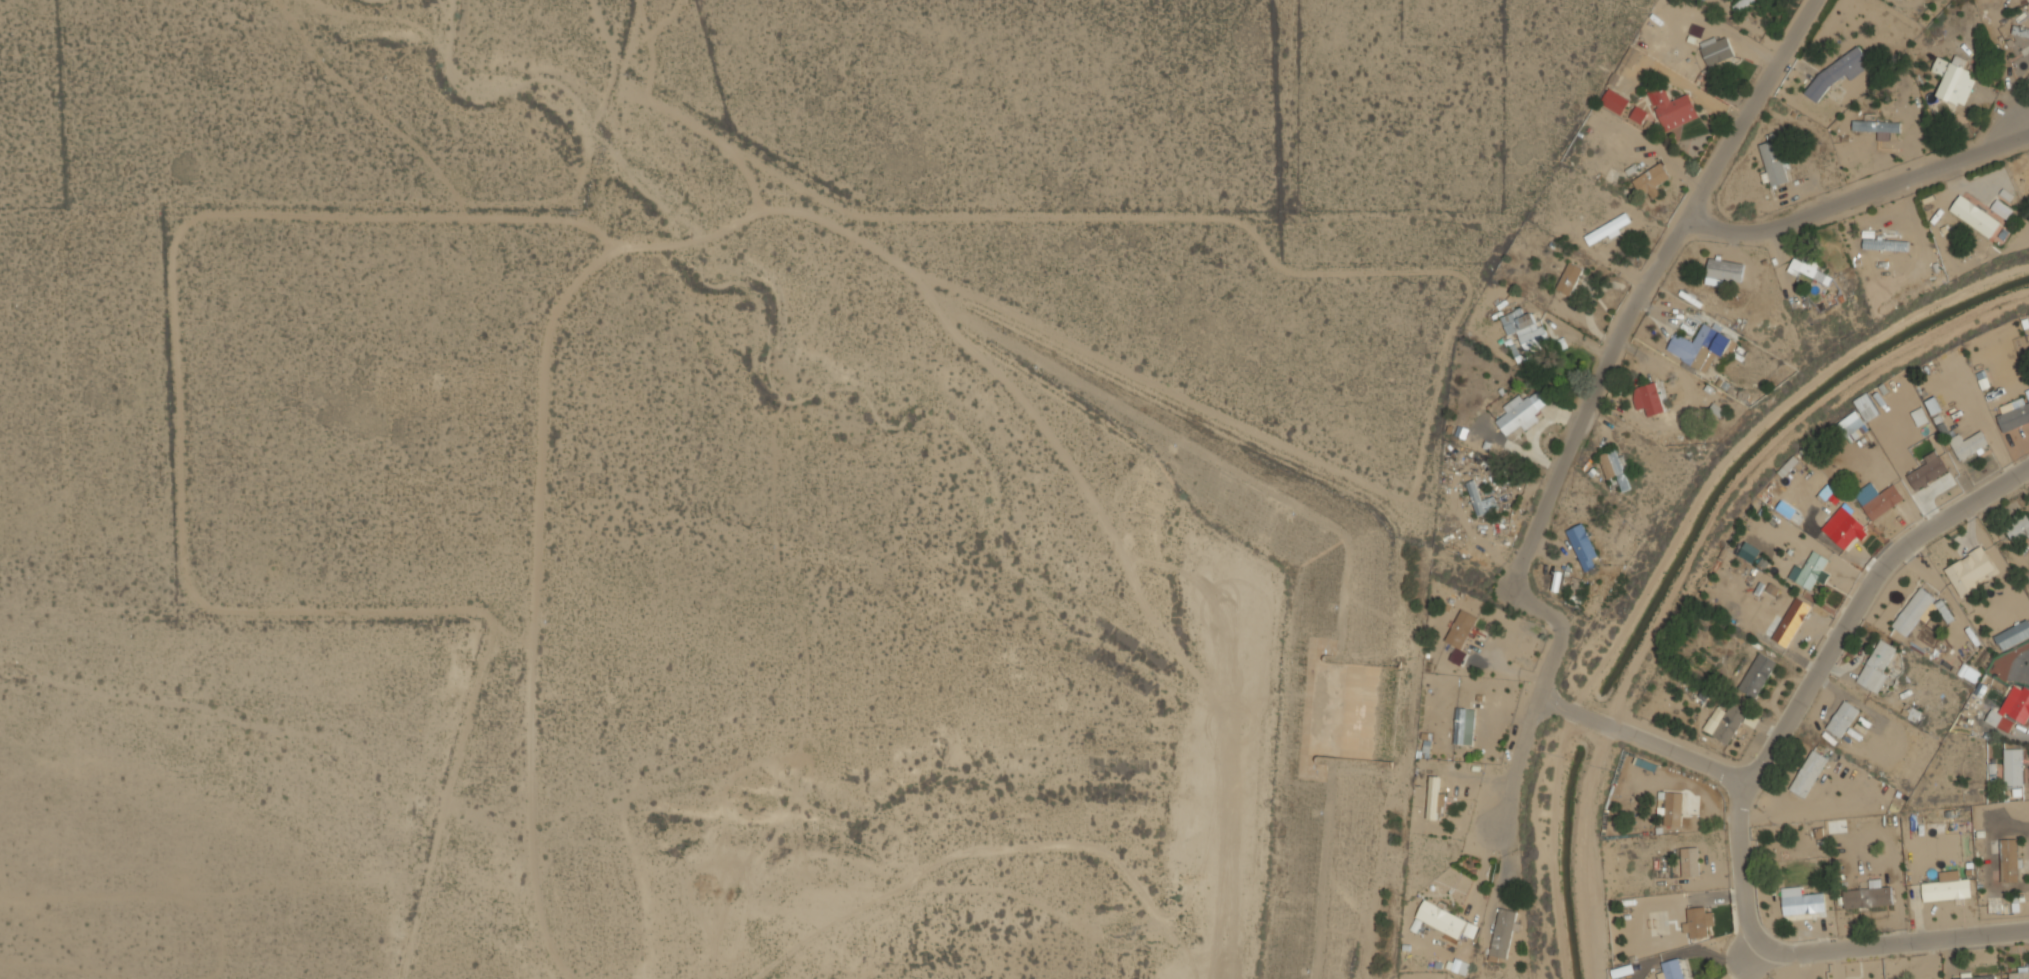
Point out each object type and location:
building: (1741, 4)
building: (2028, 35)
building: (1716, 50)
building: (1631, 56)
building: (1836, 73)
building: (1953, 79)
building: (1614, 101)
building: (1672, 108)
building: (1638, 114)
building: (1877, 127)
building: (1773, 162)
building: (1651, 180)
road: (1862, 190)
building: (2001, 208)
building: (1975, 216)
building: (1609, 227)
building: (1885, 244)
building: (1725, 269)
building: (1808, 269)
building: (1569, 278)
road: (1641, 285)
building: (1529, 331)
building: (1700, 346)
building: (1649, 399)
building: (1933, 405)
building: (1866, 406)
building: (1521, 412)
building: (2014, 413)
building: (1919, 416)
building: (1851, 426)
building: (1967, 444)
building: (1614, 467)
building: (1928, 470)
building: (1480, 499)
building: (1878, 499)
building: (1843, 528)
building: (2018, 529)
dam: (1345, 532)
building: (1581, 541)
building: (1749, 551)
building: (1810, 570)
building: (1969, 571)
road: (1859, 597)
building: (1913, 611)
building: (1791, 622)
building: (1460, 628)
building: (2013, 635)
building: (1457, 656)
building: (1877, 666)
building: (1757, 675)
road: (1538, 696)
building: (2011, 709)
building: (1842, 718)
building: (1724, 722)
building: (1464, 726)
road: (1640, 739)
building: (2013, 766)
building: (1809, 774)
building: (1433, 797)
building: (1673, 808)
building: (1989, 845)
building: (2009, 860)
building: (1689, 861)
building: (1454, 879)
building: (1947, 887)
building: (1868, 895)
building: (1801, 901)
building: (1993, 906)
building: (1441, 918)
building: (1697, 921)
building: (1502, 932)
road: (1799, 952)
building: (1460, 965)
building: (1672, 969)
building: (2020, 974)
building: (1974, 976)

